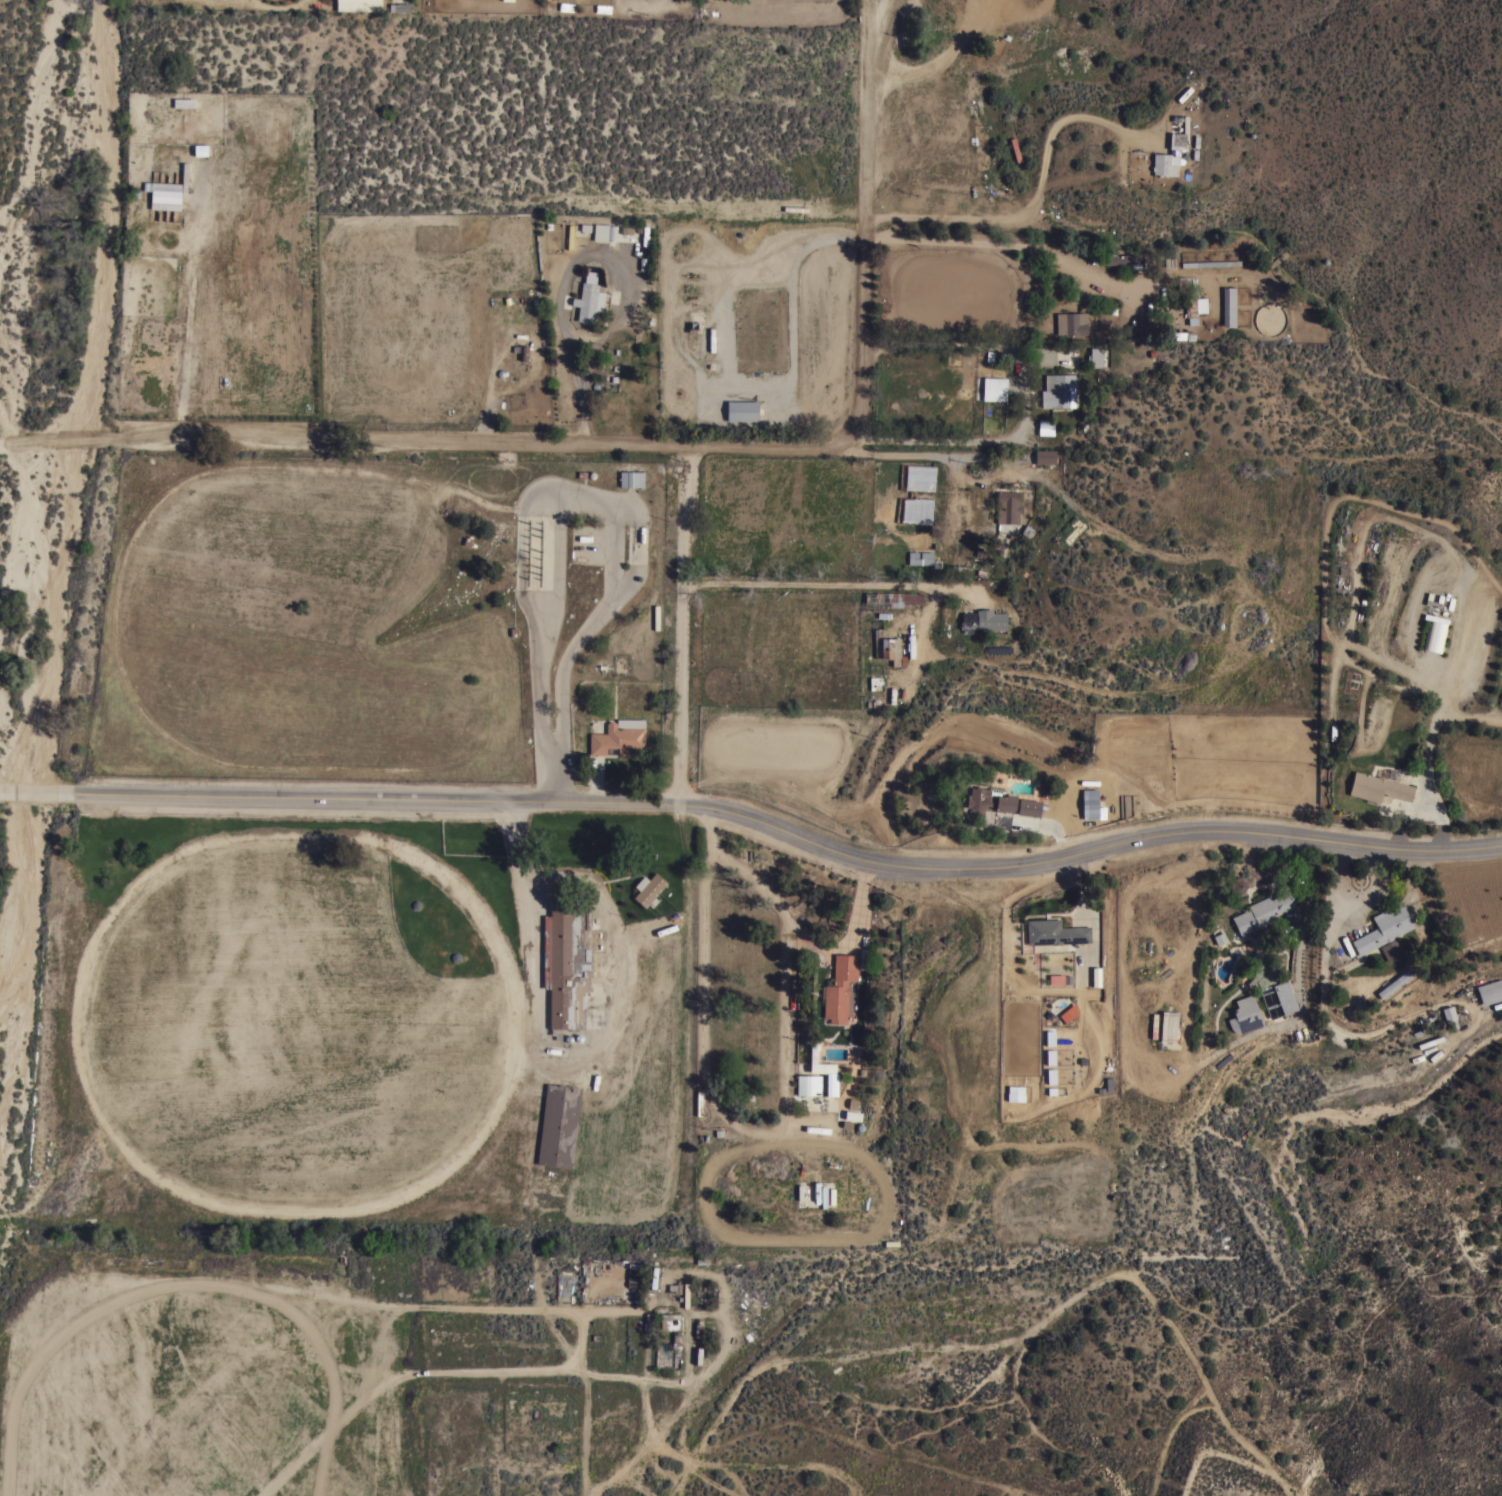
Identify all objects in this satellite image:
building: (358, 5)
building: (399, 6)
building: (566, 6)
road: (935, 61)
road: (867, 102)
building: (184, 103)
building: (1177, 140)
building: (1015, 149)
building: (1165, 163)
road: (1039, 192)
building: (164, 195)
road: (709, 203)
building: (604, 231)
building: (548, 232)
building: (1160, 255)
building: (1123, 259)
building: (1170, 261)
building: (1210, 262)
road: (577, 263)
building: (1181, 282)
building: (590, 297)
building: (1195, 307)
building: (1229, 307)
building: (1071, 322)
road: (864, 334)
building: (1182, 334)
building: (1095, 356)
building: (994, 387)
building: (1058, 390)
building: (742, 410)
building: (1044, 426)
road: (413, 441)
road: (973, 450)
building: (1045, 456)
building: (631, 478)
building: (1008, 506)
building: (1000, 544)
building: (920, 557)
road: (613, 569)
road: (842, 583)
building: (891, 598)
building: (656, 615)
building: (983, 620)
road: (683, 624)
building: (1434, 632)
building: (887, 647)
road: (549, 673)
building: (619, 736)
building: (839, 776)
building: (1379, 785)
building: (1092, 800)
building: (999, 802)
road: (756, 820)
building: (1239, 884)
building: (648, 889)
building: (1262, 912)
building: (1383, 928)
building: (1055, 932)
building: (1391, 949)
building: (567, 960)
building: (1394, 983)
building: (841, 988)
building: (1273, 991)
building: (1490, 991)
building: (1068, 1013)
building: (1245, 1014)
building: (1449, 1017)
building: (1154, 1025)
building: (1168, 1025)
building: (1049, 1037)
road: (558, 1059)
building: (1113, 1080)
building: (830, 1083)
building: (808, 1084)
building: (1015, 1093)
building: (699, 1102)
building: (559, 1124)
building: (633, 1271)
building: (686, 1294)
road: (568, 1306)
building: (670, 1321)
building: (676, 1350)
building: (663, 1354)

